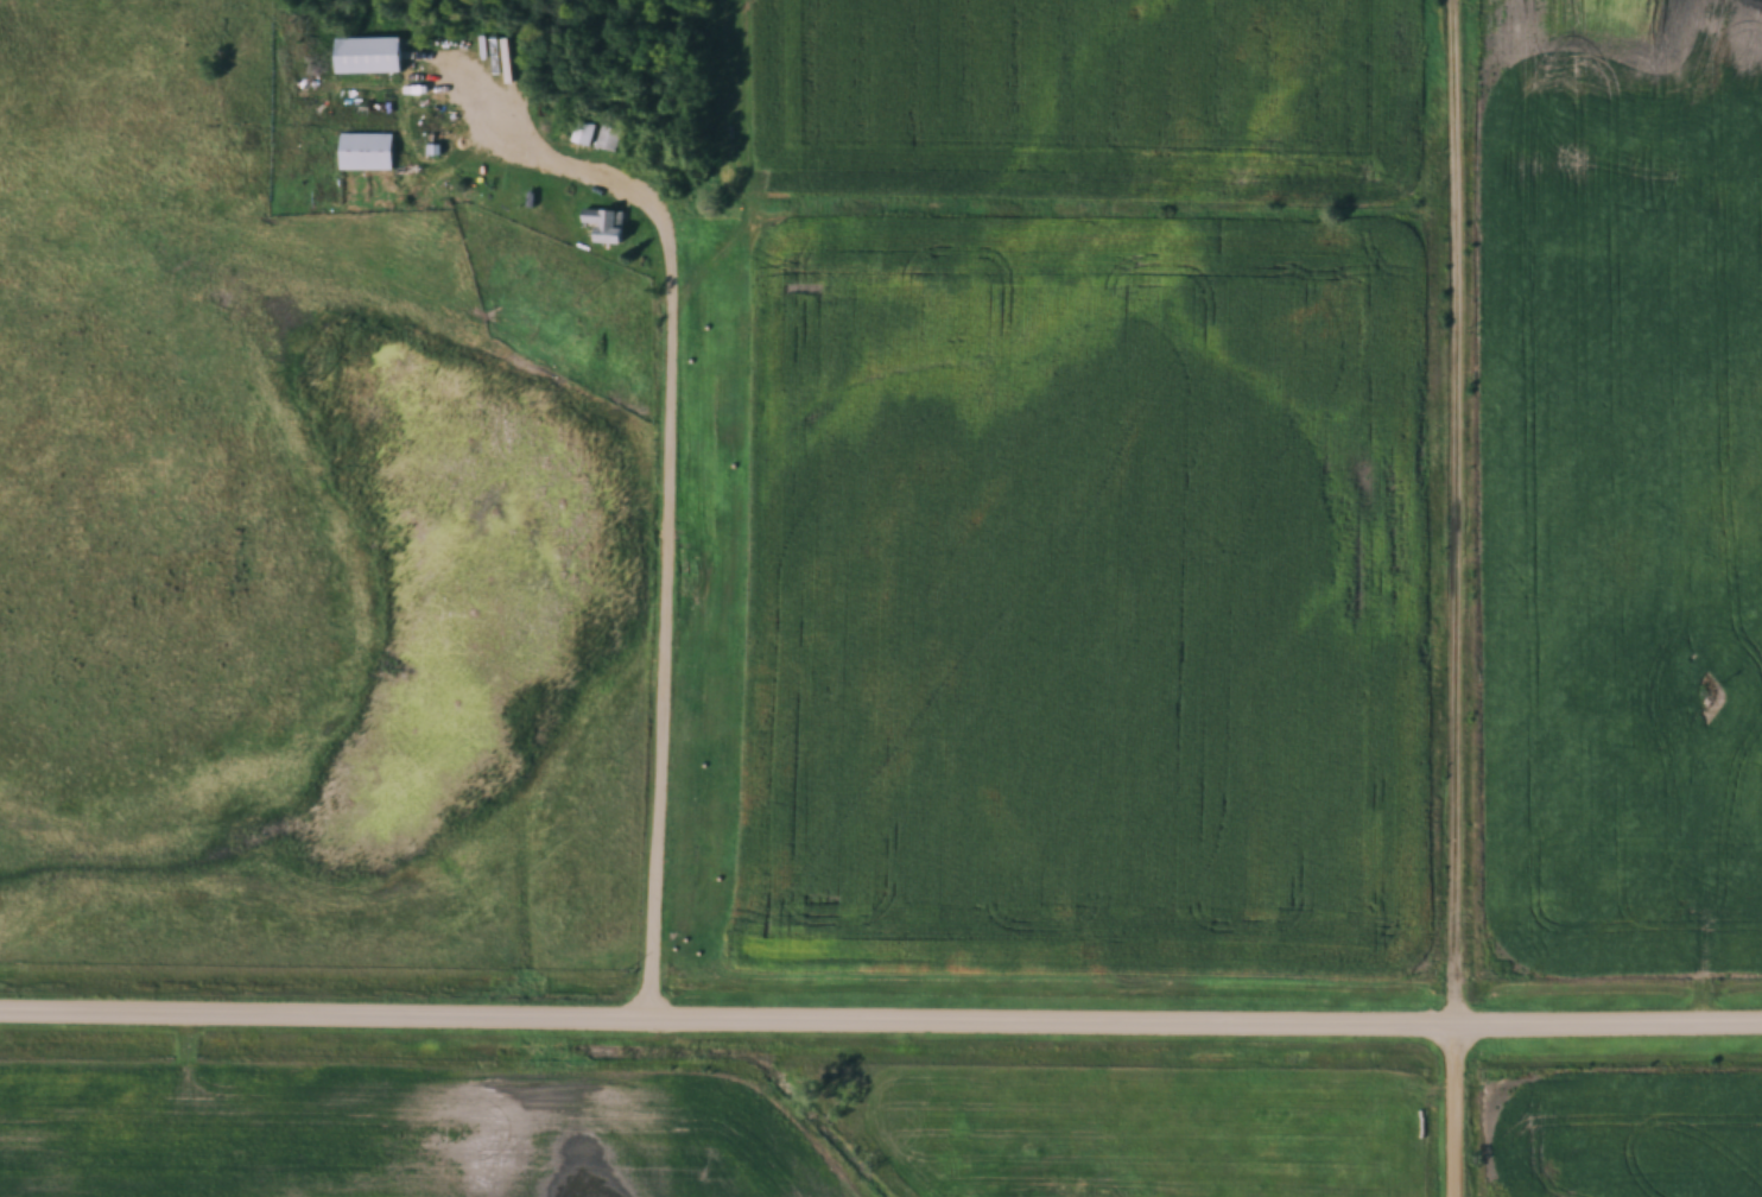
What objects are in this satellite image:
building: (369, 55)
building: (367, 151)
building: (606, 224)
road: (668, 483)
road: (1458, 598)
building: (1616, 786)
road: (880, 1018)

